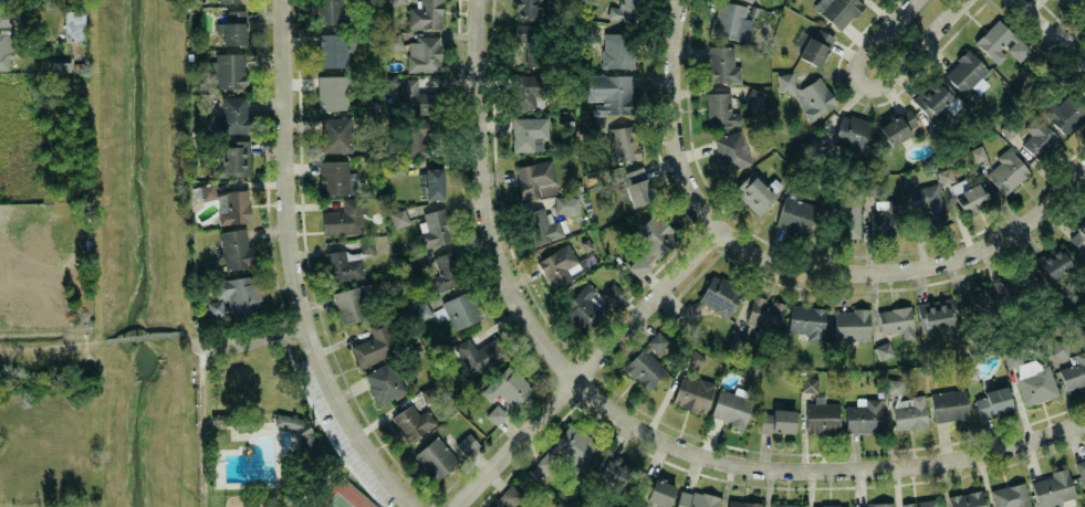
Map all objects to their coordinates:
building: (228, 0)
building: (397, 0)
building: (750, 0)
building: (1072, 1)
building: (526, 9)
building: (626, 10)
building: (837, 10)
building: (332, 11)
building: (1083, 11)
building: (426, 13)
building: (730, 20)
building: (73, 24)
building: (232, 27)
road: (1050, 33)
building: (526, 34)
building: (392, 39)
building: (1000, 43)
building: (815, 45)
building: (335, 47)
building: (618, 49)
building: (422, 53)
building: (721, 64)
building: (230, 70)
building: (967, 72)
building: (785, 80)
road: (877, 85)
building: (528, 86)
building: (332, 91)
building: (609, 93)
building: (754, 96)
building: (935, 99)
building: (720, 108)
building: (233, 110)
building: (1063, 112)
building: (416, 114)
road: (671, 120)
building: (590, 125)
building: (898, 126)
building: (529, 131)
building: (852, 131)
building: (335, 134)
building: (1037, 137)
building: (623, 141)
building: (731, 150)
building: (976, 154)
building: (236, 158)
building: (398, 166)
building: (1005, 171)
building: (335, 177)
building: (535, 178)
building: (432, 182)
building: (637, 186)
building: (207, 190)
building: (961, 192)
building: (753, 193)
road: (484, 203)
building: (562, 203)
building: (232, 205)
building: (927, 207)
building: (793, 214)
building: (345, 215)
building: (398, 216)
building: (847, 218)
building: (885, 220)
building: (435, 226)
building: (547, 231)
building: (1078, 237)
building: (650, 242)
building: (366, 244)
building: (236, 249)
building: (559, 264)
building: (343, 265)
building: (1050, 265)
road: (912, 268)
road: (292, 271)
building: (446, 271)
building: (1015, 286)
building: (234, 294)
building: (719, 295)
building: (353, 302)
building: (978, 304)
building: (461, 308)
building: (581, 309)
building: (763, 313)
building: (935, 314)
building: (805, 321)
building: (896, 321)
building: (849, 324)
road: (147, 335)
road: (191, 338)
road: (249, 339)
building: (735, 339)
building: (656, 342)
building: (374, 344)
road: (52, 345)
building: (1060, 346)
building: (884, 348)
building: (480, 355)
building: (693, 358)
building: (643, 368)
road: (591, 369)
building: (1073, 371)
building: (1031, 377)
building: (384, 381)
building: (808, 383)
building: (894, 385)
building: (507, 387)
building: (691, 392)
building: (990, 401)
building: (947, 405)
building: (729, 408)
building: (908, 413)
building: (494, 414)
building: (863, 415)
building: (821, 418)
building: (775, 420)
building: (410, 422)
road: (201, 425)
building: (293, 427)
parking lot: (344, 430)
building: (572, 445)
building: (444, 453)
building: (613, 469)
road: (823, 469)
building: (1081, 472)
building: (1051, 488)
building: (650, 490)
building: (1010, 496)
park: (343, 497)
building: (508, 497)
building: (693, 498)
building: (966, 499)
building: (742, 504)
building: (920, 504)
building: (785, 505)
building: (830, 505)
building: (873, 506)

